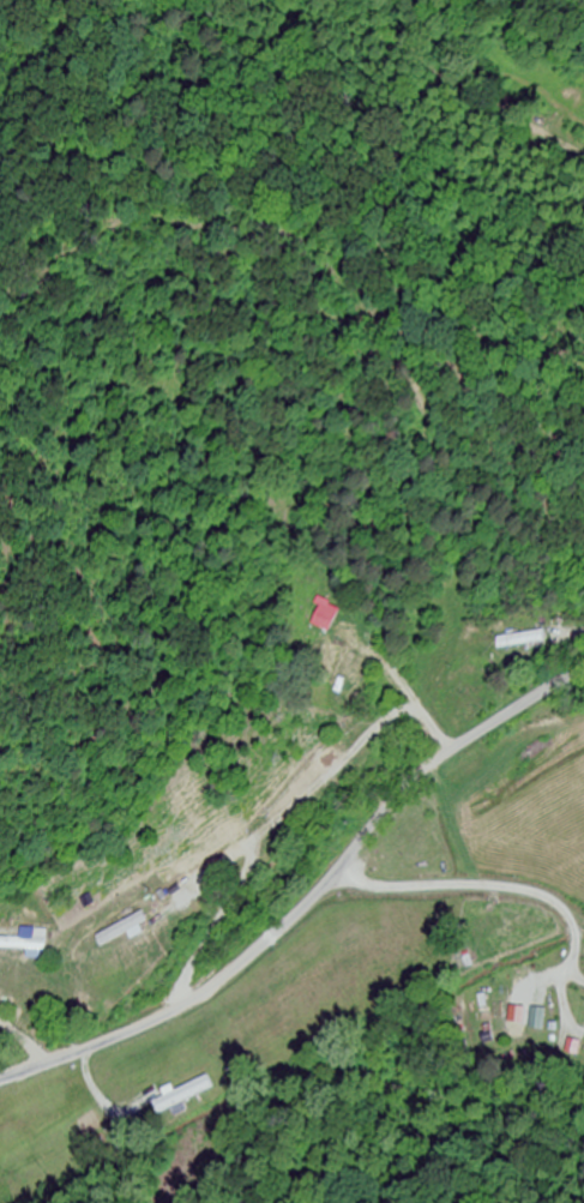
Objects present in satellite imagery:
building: (408, 829)
road: (308, 901)
building: (122, 930)
building: (26, 942)
building: (537, 1021)
building: (182, 1096)

